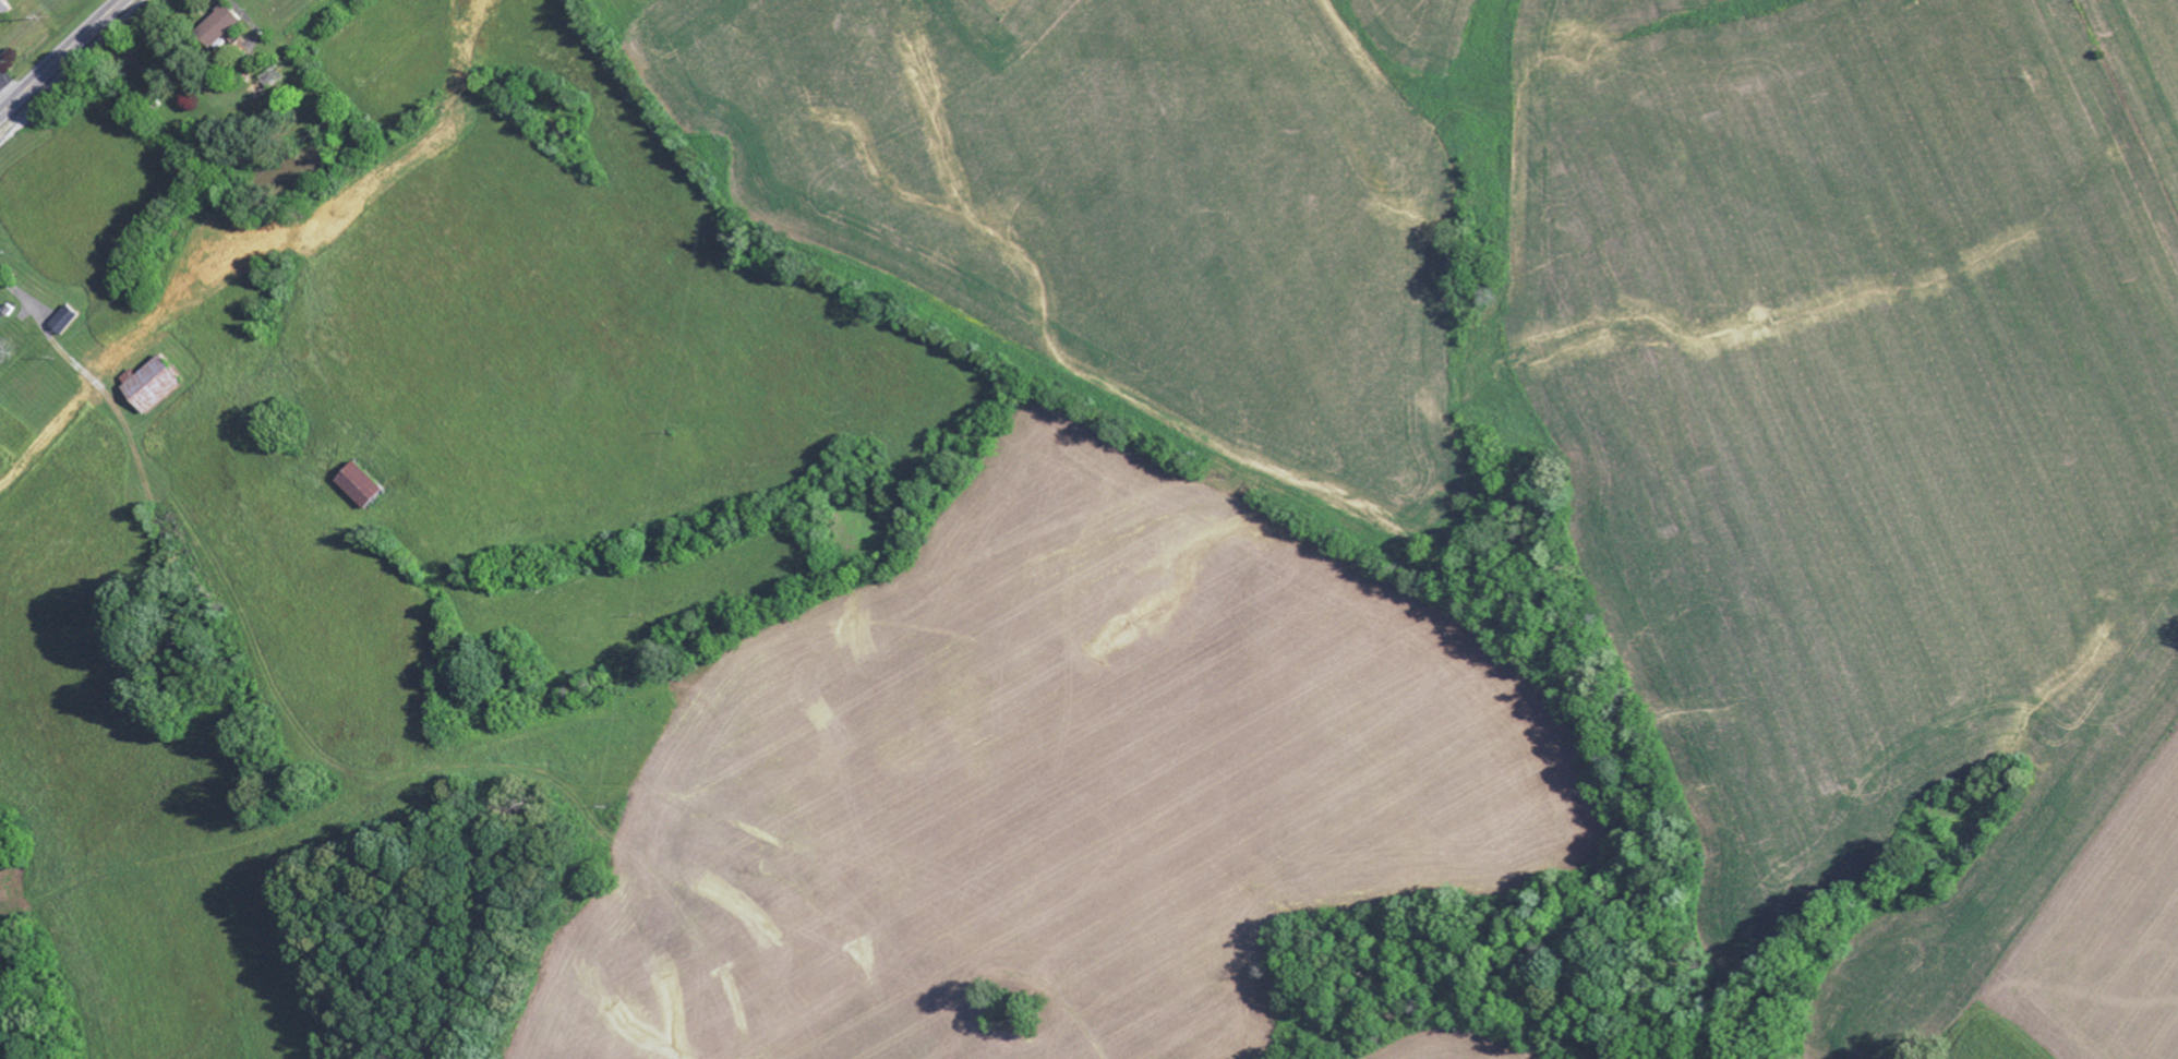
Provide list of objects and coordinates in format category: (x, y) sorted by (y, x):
building: (3, 11)
building: (218, 28)
road: (61, 57)
building: (0, 313)
building: (149, 386)
road: (93, 416)
building: (364, 489)

